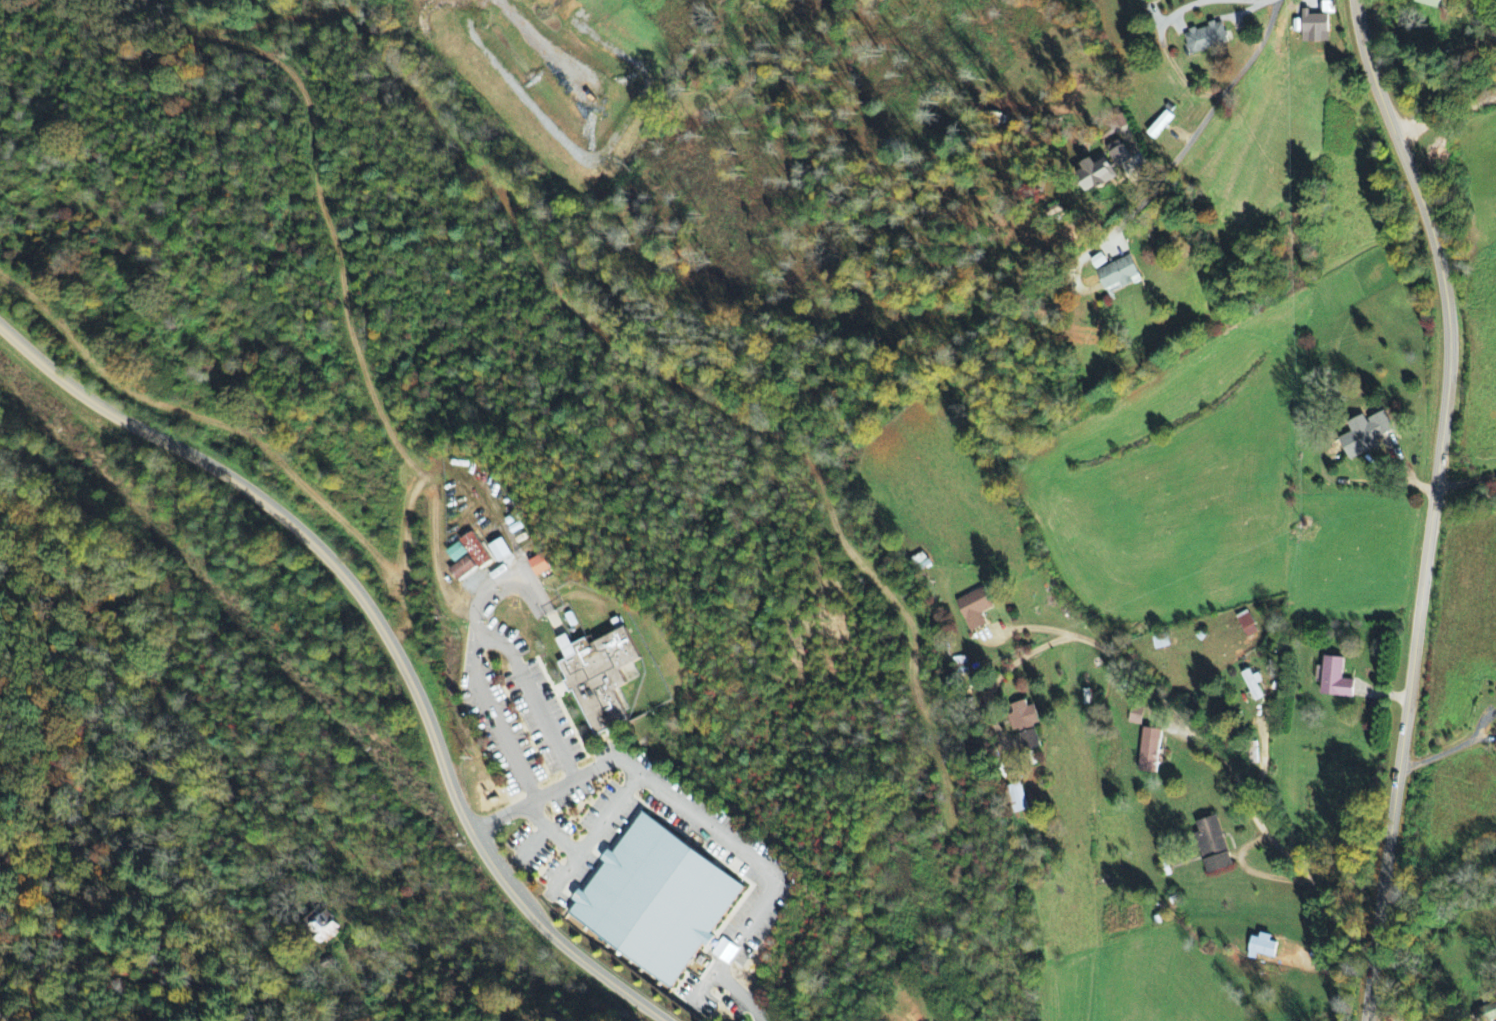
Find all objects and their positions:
road: (1255, 0)
building: (1432, 3)
building: (1327, 8)
road: (1173, 13)
building: (1314, 28)
building: (1205, 38)
road: (1208, 115)
road: (1446, 115)
building: (1159, 125)
building: (1118, 154)
building: (1095, 175)
building: (1098, 262)
building: (1119, 274)
building: (1358, 442)
road: (1464, 497)
road: (1434, 504)
building: (499, 551)
building: (467, 558)
building: (539, 566)
building: (974, 609)
building: (1247, 625)
road: (382, 630)
building: (1160, 643)
building: (598, 677)
building: (1335, 680)
building: (1252, 685)
building: (1024, 725)
building: (1154, 725)
building: (1148, 756)
road: (1236, 775)
building: (1016, 799)
building: (1212, 845)
building: (655, 901)
building: (325, 929)
building: (1261, 947)
building: (1487, 1013)
road: (1375, 1017)

